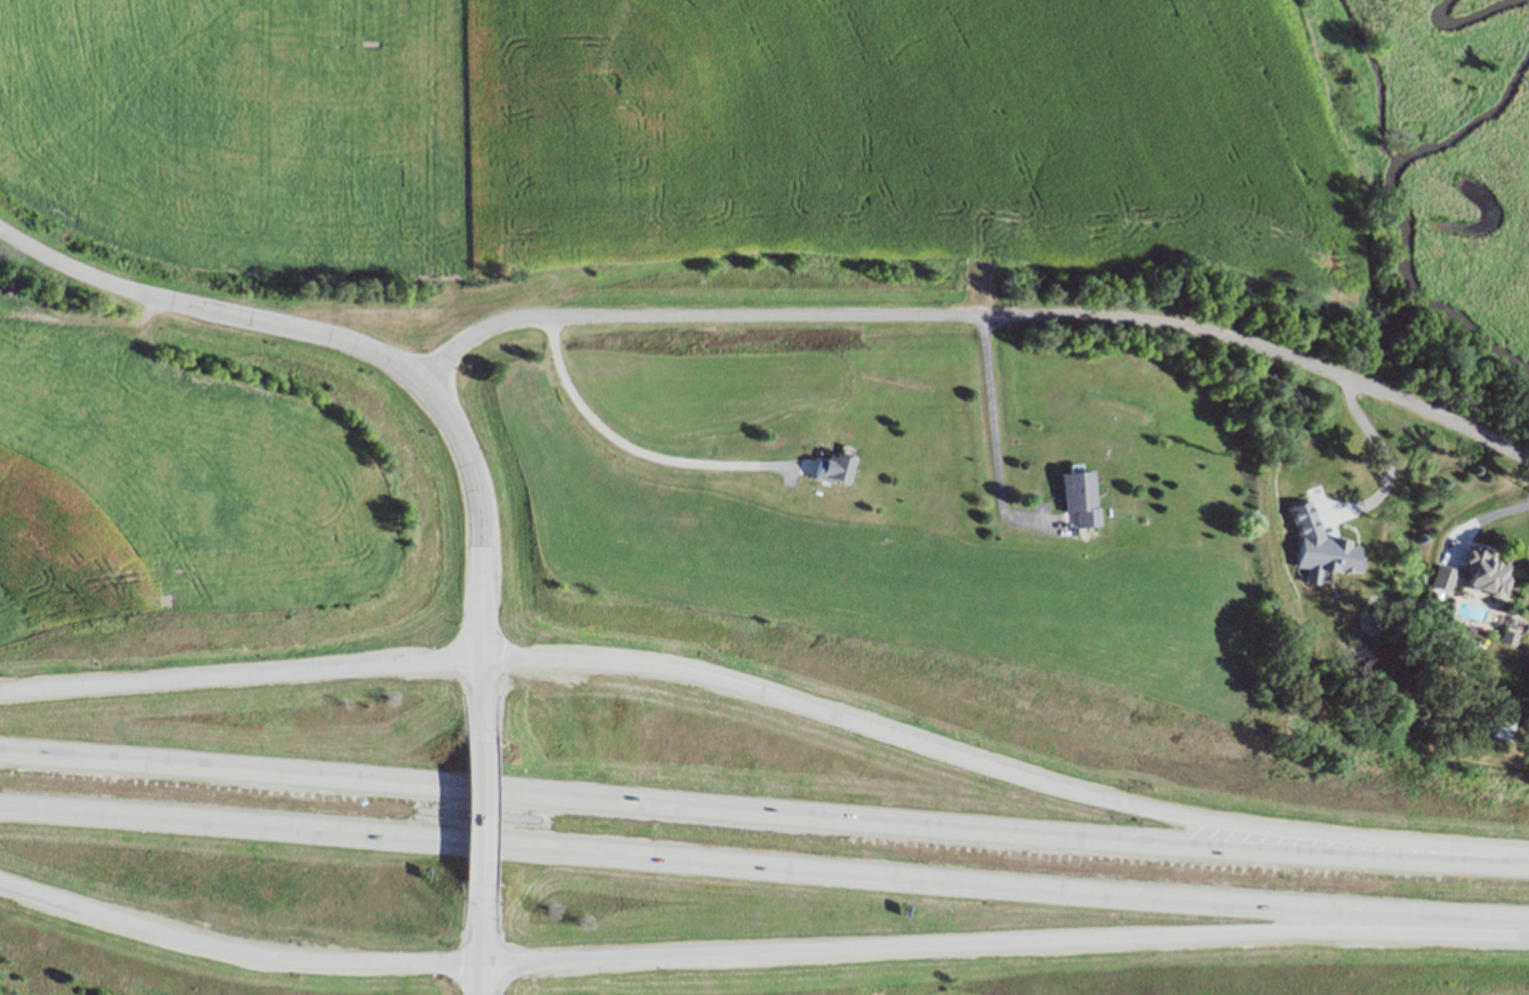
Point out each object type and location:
crop: (702, 139)
road: (976, 316)
road: (353, 344)
road: (991, 424)
road: (627, 445)
road: (1383, 461)
building: (831, 467)
crop: (177, 479)
building: (1081, 496)
road: (1482, 515)
building: (1483, 571)
building: (1444, 577)
road: (243, 678)
road: (486, 702)
road: (1004, 770)
road: (764, 814)
road: (486, 821)
road: (764, 864)
road: (1006, 942)
road: (485, 947)
road: (238, 951)

